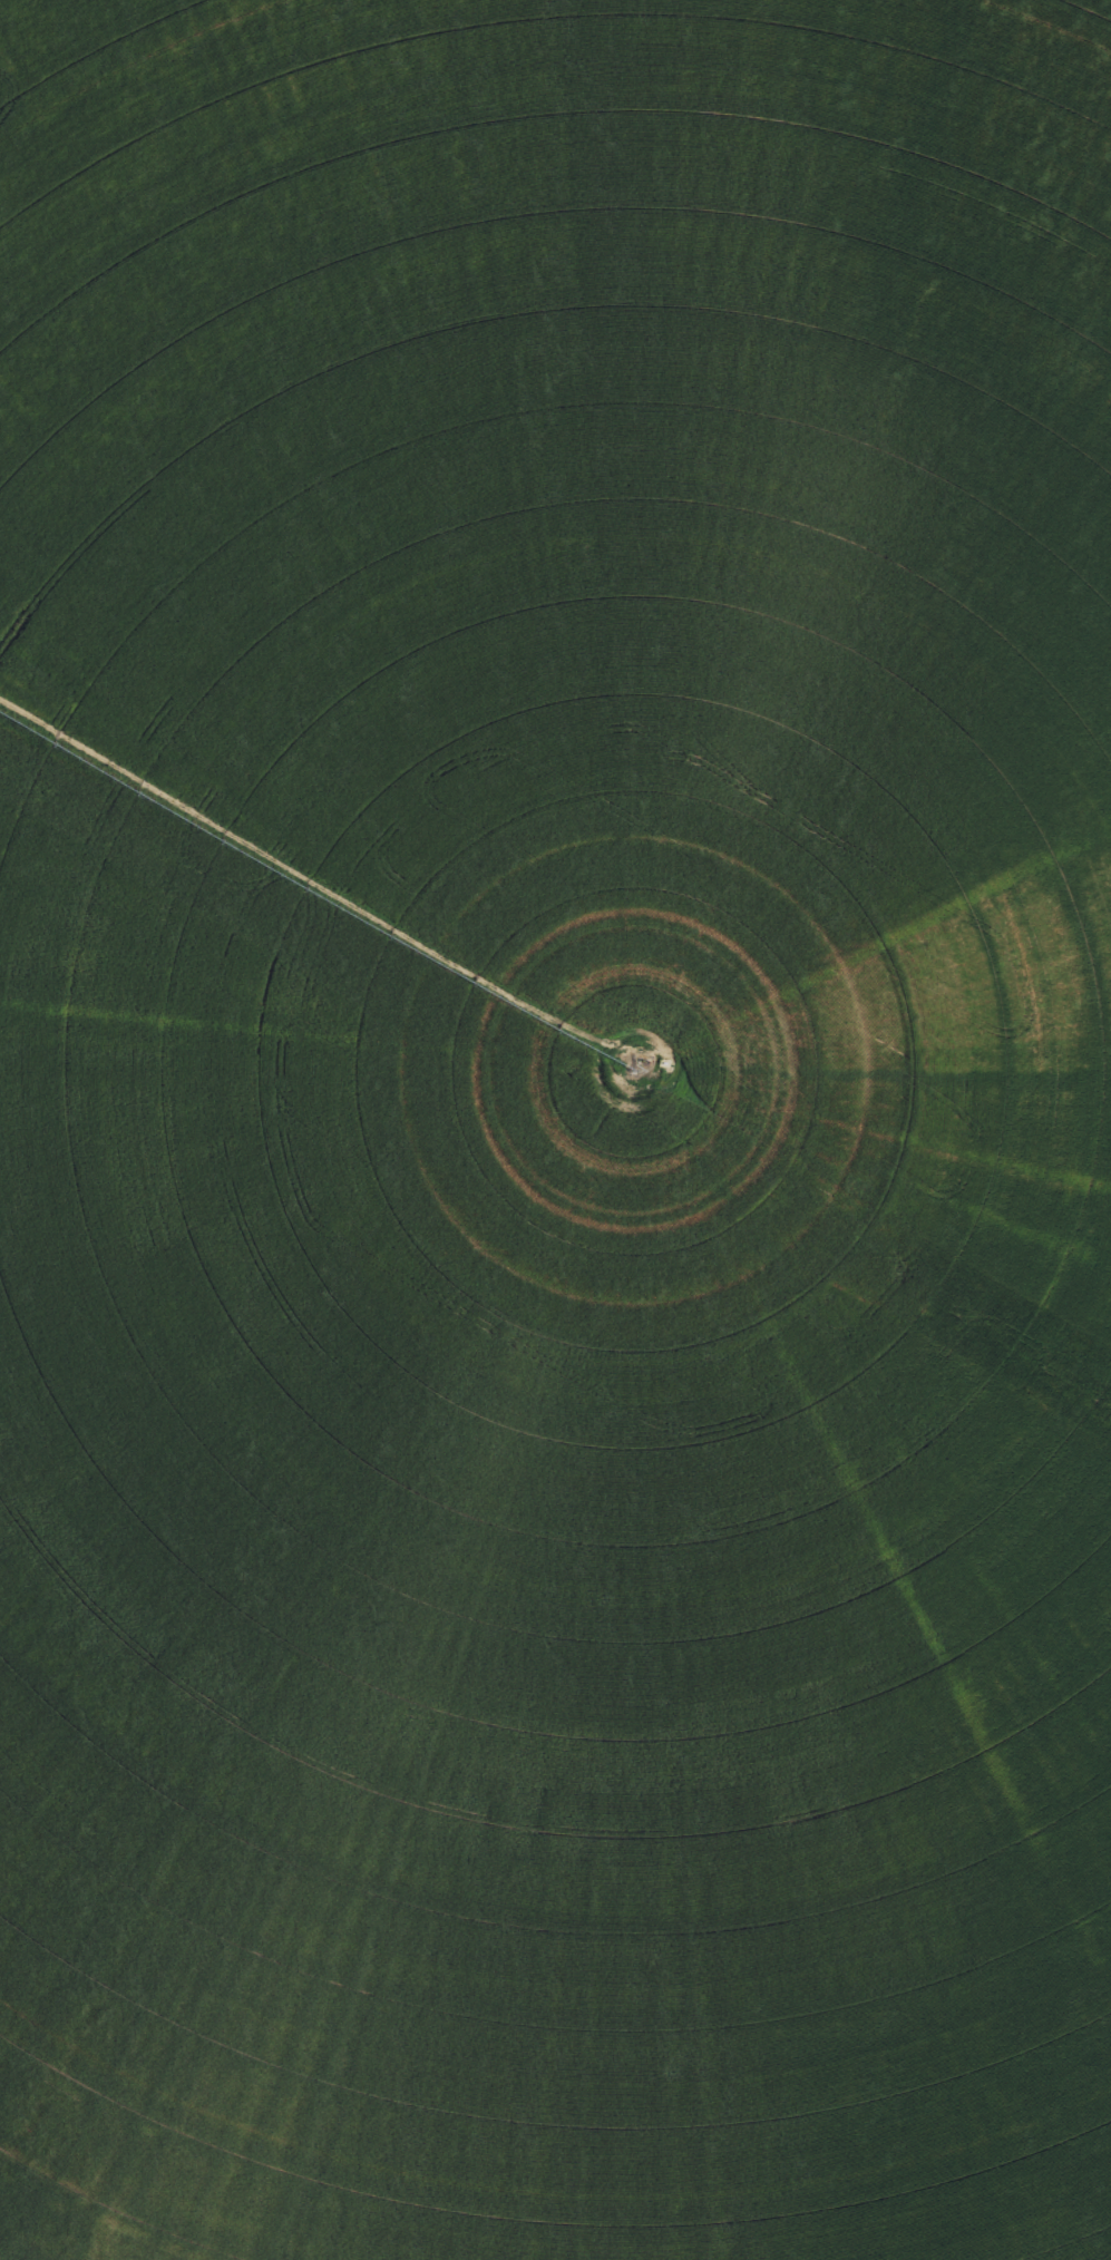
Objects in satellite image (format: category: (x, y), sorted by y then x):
crop: (555, 1130)

